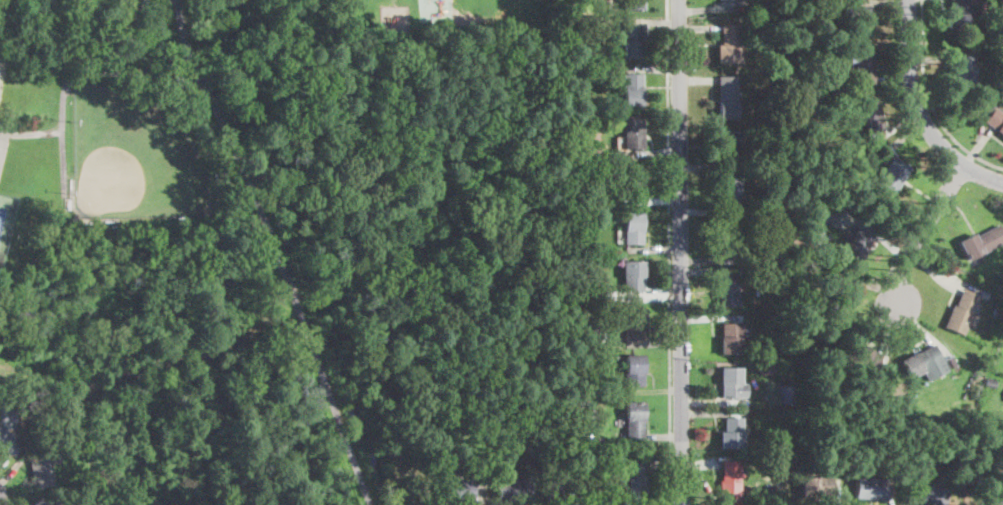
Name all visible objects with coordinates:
road: (883, 0)
road: (176, 2)
building: (631, 4)
building: (754, 7)
road: (705, 9)
building: (812, 13)
building: (958, 14)
road: (652, 21)
building: (860, 22)
building: (569, 25)
building: (751, 27)
road: (698, 28)
building: (806, 36)
building: (632, 41)
building: (729, 44)
building: (586, 53)
road: (930, 59)
building: (966, 66)
road: (653, 68)
building: (862, 68)
road: (893, 77)
building: (575, 80)
road: (697, 80)
building: (632, 89)
building: (727, 98)
road: (930, 100)
road: (920, 110)
building: (837, 115)
building: (872, 119)
building: (996, 121)
road: (902, 122)
building: (575, 131)
road: (30, 133)
building: (632, 134)
road: (907, 135)
building: (727, 145)
road: (978, 147)
park: (3, 151)
road: (654, 153)
park: (134, 157)
road: (701, 168)
building: (892, 174)
building: (633, 181)
building: (728, 191)
building: (585, 197)
road: (652, 200)
building: (818, 210)
park: (5, 217)
road: (705, 217)
building: (583, 218)
building: (633, 228)
road: (872, 230)
road: (922, 231)
building: (813, 233)
building: (828, 234)
building: (727, 241)
building: (981, 242)
building: (858, 244)
road: (654, 248)
road: (275, 251)
road: (668, 252)
road: (680, 252)
building: (776, 259)
park: (160, 261)
road: (704, 261)
building: (789, 270)
road: (703, 271)
road: (947, 274)
building: (633, 275)
road: (872, 283)
building: (578, 286)
building: (593, 291)
building: (728, 291)
road: (654, 295)
building: (581, 296)
building: (839, 299)
building: (997, 312)
building: (962, 313)
road: (717, 318)
building: (634, 325)
building: (785, 327)
road: (922, 327)
building: (592, 329)
road: (889, 331)
building: (730, 338)
road: (645, 344)
building: (785, 353)
building: (854, 353)
building: (921, 360)
building: (951, 362)
building: (787, 366)
building: (634, 370)
building: (990, 381)
building: (731, 382)
road: (655, 389)
building: (785, 393)
building: (26, 400)
road: (714, 403)
road: (713, 412)
building: (770, 412)
building: (588, 414)
building: (634, 422)
building: (6, 426)
building: (731, 433)
road: (664, 436)
building: (600, 441)
building: (505, 444)
road: (656, 456)
building: (440, 458)
road: (4, 460)
road: (17, 464)
road: (699, 464)
building: (40, 471)
building: (634, 478)
building: (730, 482)
building: (995, 485)
building: (815, 486)
building: (511, 488)
building: (560, 489)
building: (457, 490)
building: (870, 490)
road: (837, 492)
road: (892, 495)
building: (930, 495)
road: (580, 496)
road: (477, 497)
road: (532, 497)
road: (909, 497)
building: (42, 502)
building: (997, 502)
road: (0, 504)

